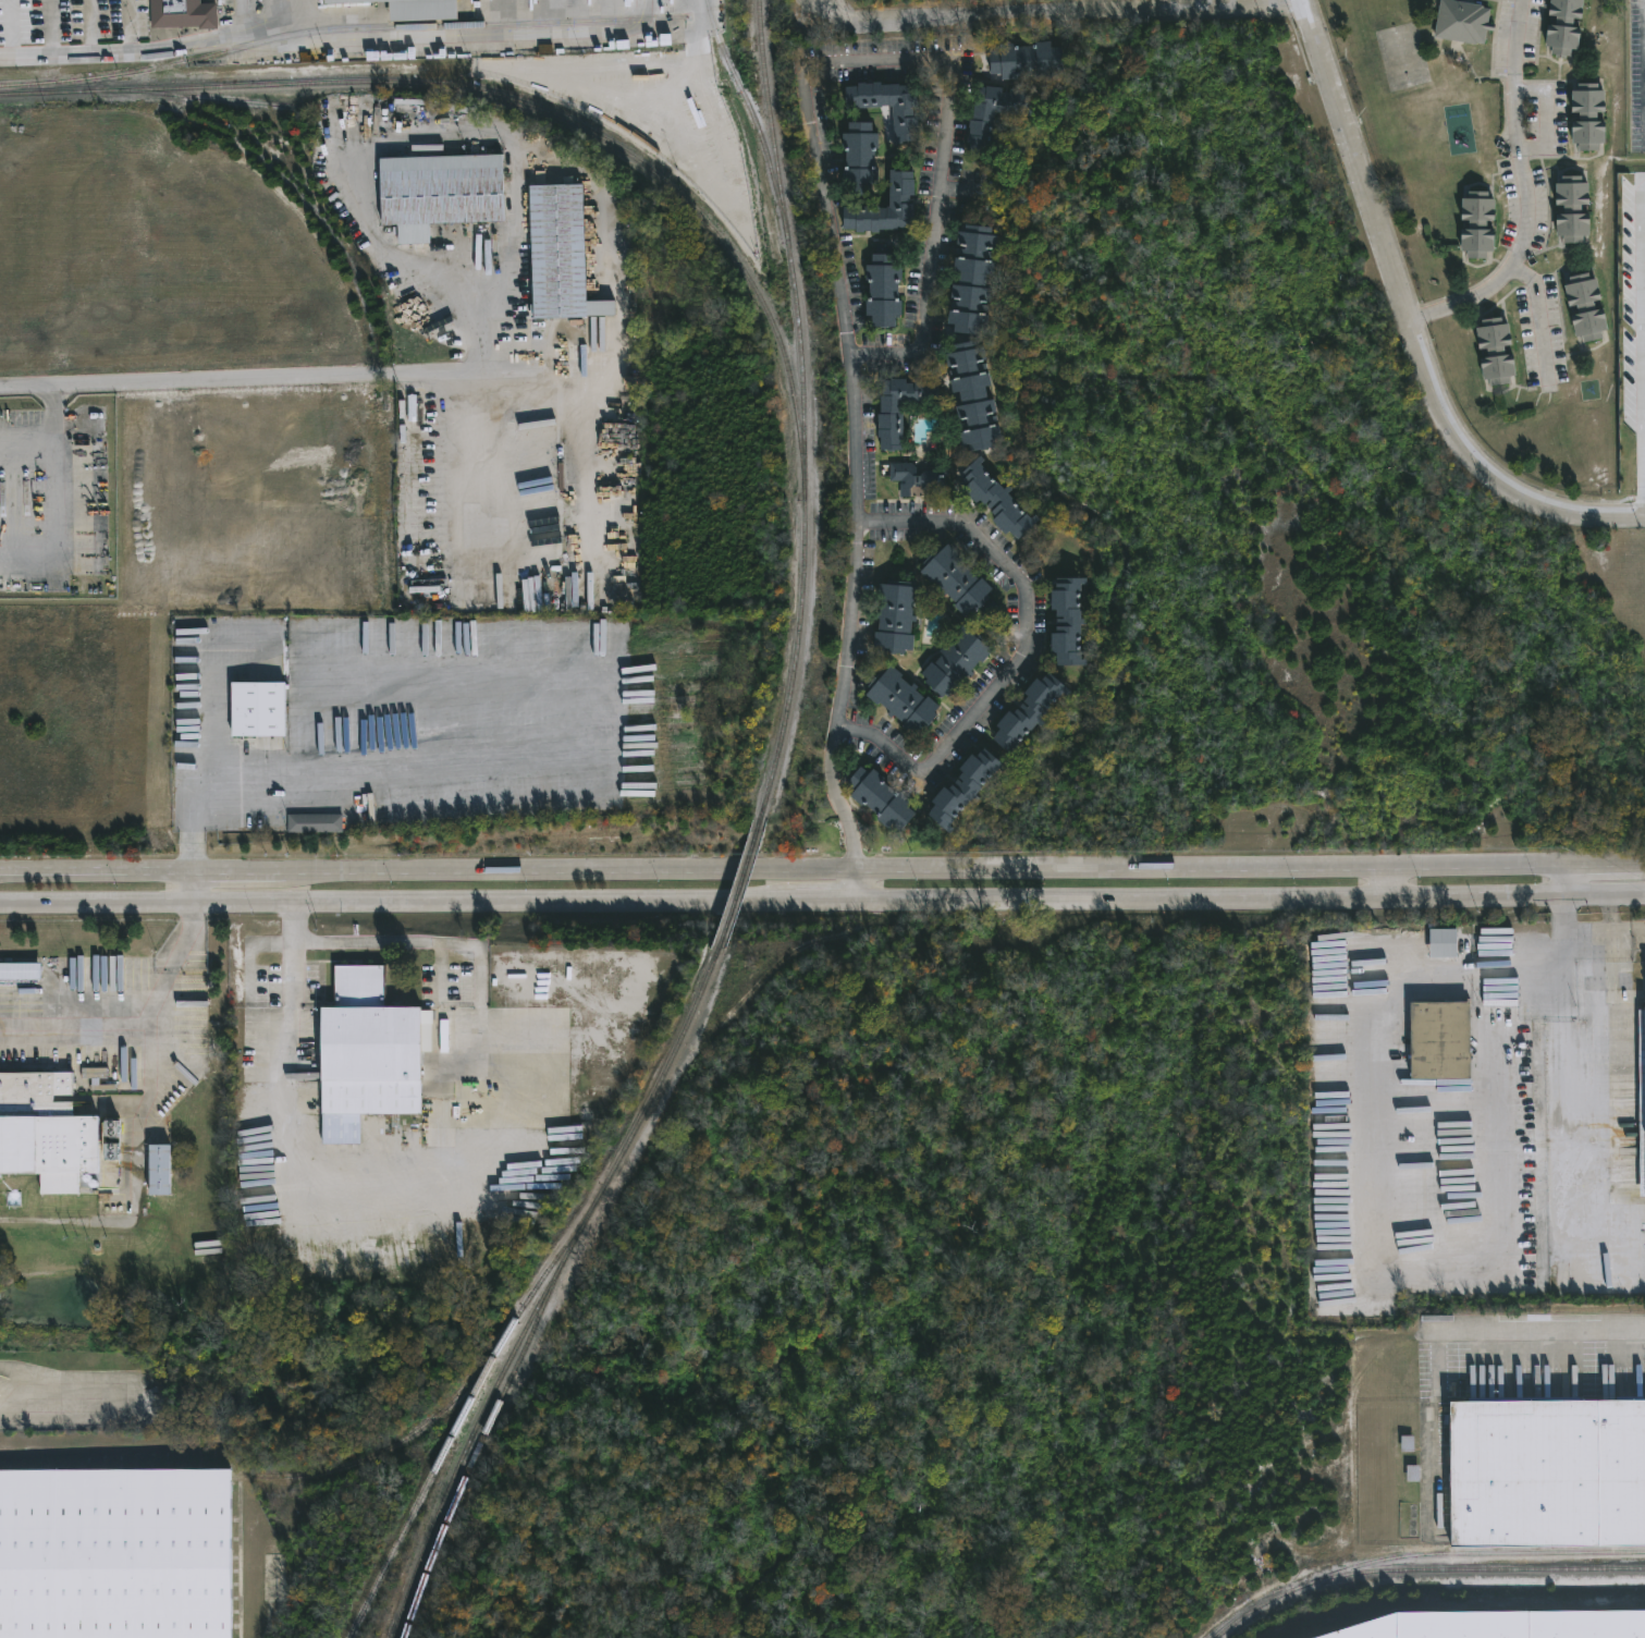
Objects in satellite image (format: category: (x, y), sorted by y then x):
building: (347, 0)
building: (425, 9)
road: (1053, 12)
building: (184, 13)
building: (1459, 20)
building: (1558, 26)
railway: (342, 29)
road: (204, 40)
road: (90, 52)
building: (1028, 59)
railway: (516, 100)
railway: (248, 101)
building: (889, 105)
building: (996, 113)
building: (1583, 114)
railway: (751, 117)
road: (385, 137)
building: (860, 160)
road: (1527, 190)
building: (442, 192)
building: (883, 206)
building: (1568, 208)
road: (831, 213)
building: (1473, 224)
building: (562, 253)
building: (972, 279)
building: (883, 286)
building: (1581, 306)
road: (1536, 315)
road: (1409, 321)
building: (1494, 351)
road: (1643, 355)
road: (297, 376)
building: (974, 395)
railway: (803, 408)
building: (891, 426)
road: (29, 438)
road: (484, 465)
building: (922, 479)
road: (60, 494)
building: (997, 499)
building: (958, 583)
building: (895, 616)
building: (1070, 620)
road: (1024, 653)
building: (957, 661)
building: (905, 700)
building: (260, 709)
building: (1030, 712)
road: (366, 742)
building: (963, 789)
building: (881, 798)
building: (317, 821)
road: (193, 855)
road: (1252, 867)
road: (526, 871)
road: (96, 873)
railway: (740, 881)
road: (1558, 881)
road: (1383, 882)
road: (860, 887)
road: (191, 890)
road: (1252, 900)
road: (575, 904)
road: (145, 906)
road: (1559, 931)
building: (1437, 941)
building: (21, 969)
building: (1497, 1019)
building: (1433, 1039)
road: (157, 1043)
building: (371, 1048)
road: (1499, 1065)
building: (1641, 1096)
road: (1571, 1100)
building: (51, 1129)
building: (161, 1169)
road: (499, 1177)
road: (135, 1196)
road: (1371, 1250)
railway: (544, 1286)
road: (1542, 1325)
building: (4, 1386)
building: (139, 1398)
railway: (447, 1403)
road: (52, 1407)
railway: (477, 1442)
building: (1544, 1472)
railway: (429, 1475)
railway: (1471, 1550)
building: (116, 1554)
railway: (1420, 1568)
building: (1500, 1625)

